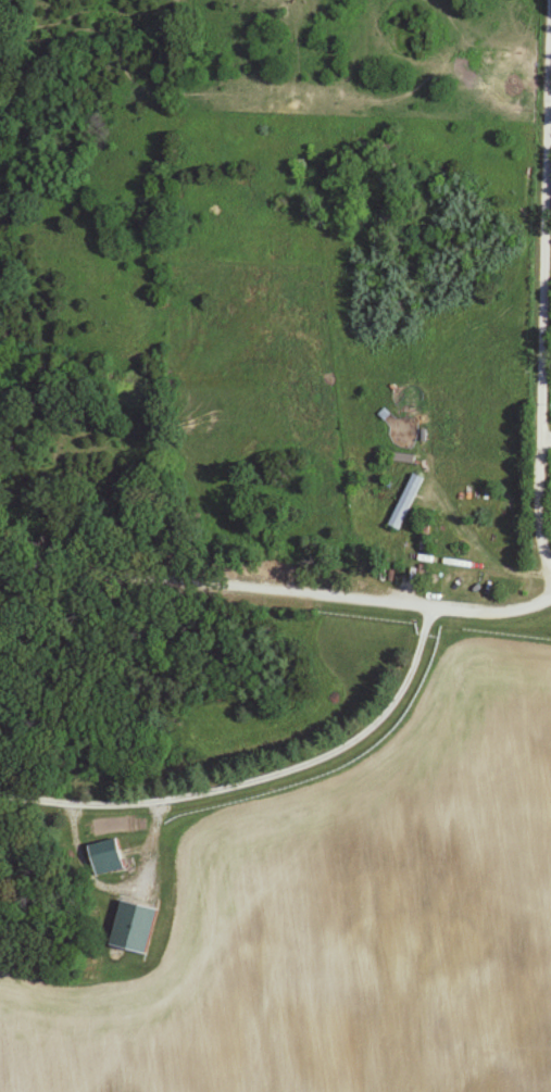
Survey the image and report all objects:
road: (474, 213)
road: (542, 287)
road: (544, 443)
building: (406, 503)
road: (276, 594)
road: (256, 781)
building: (109, 857)

